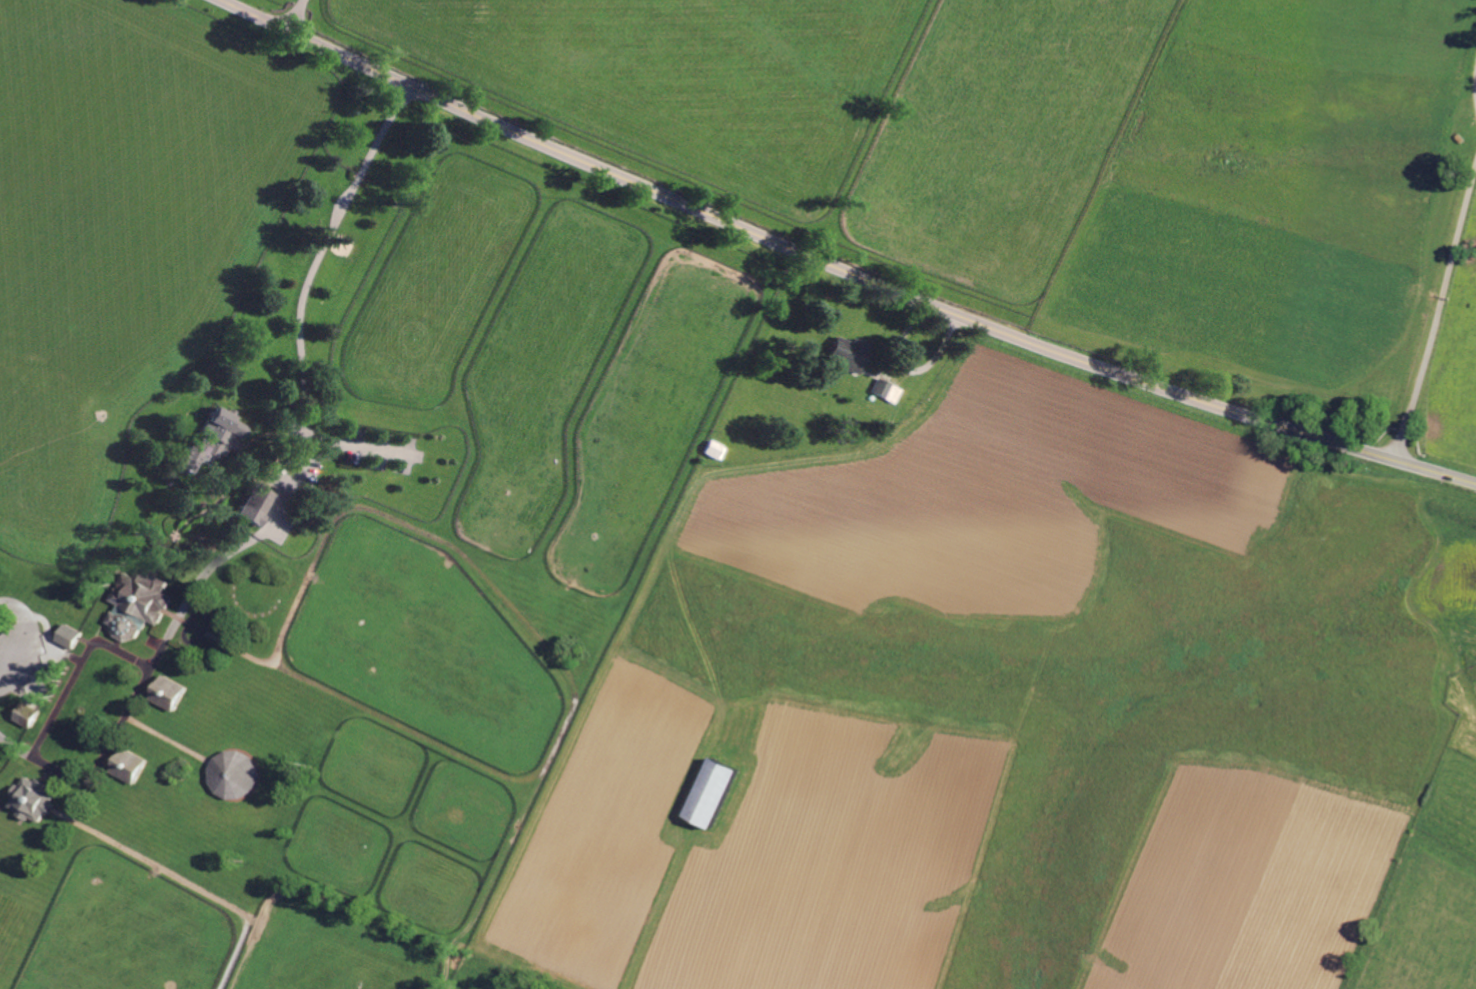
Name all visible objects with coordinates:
road: (295, 15)
road: (838, 268)
road: (301, 298)
road: (1437, 316)
building: (852, 354)
building: (214, 440)
road: (360, 445)
building: (257, 508)
road: (219, 559)
building: (143, 606)
road: (78, 673)
building: (173, 694)
road: (113, 739)
building: (720, 794)
building: (37, 800)

